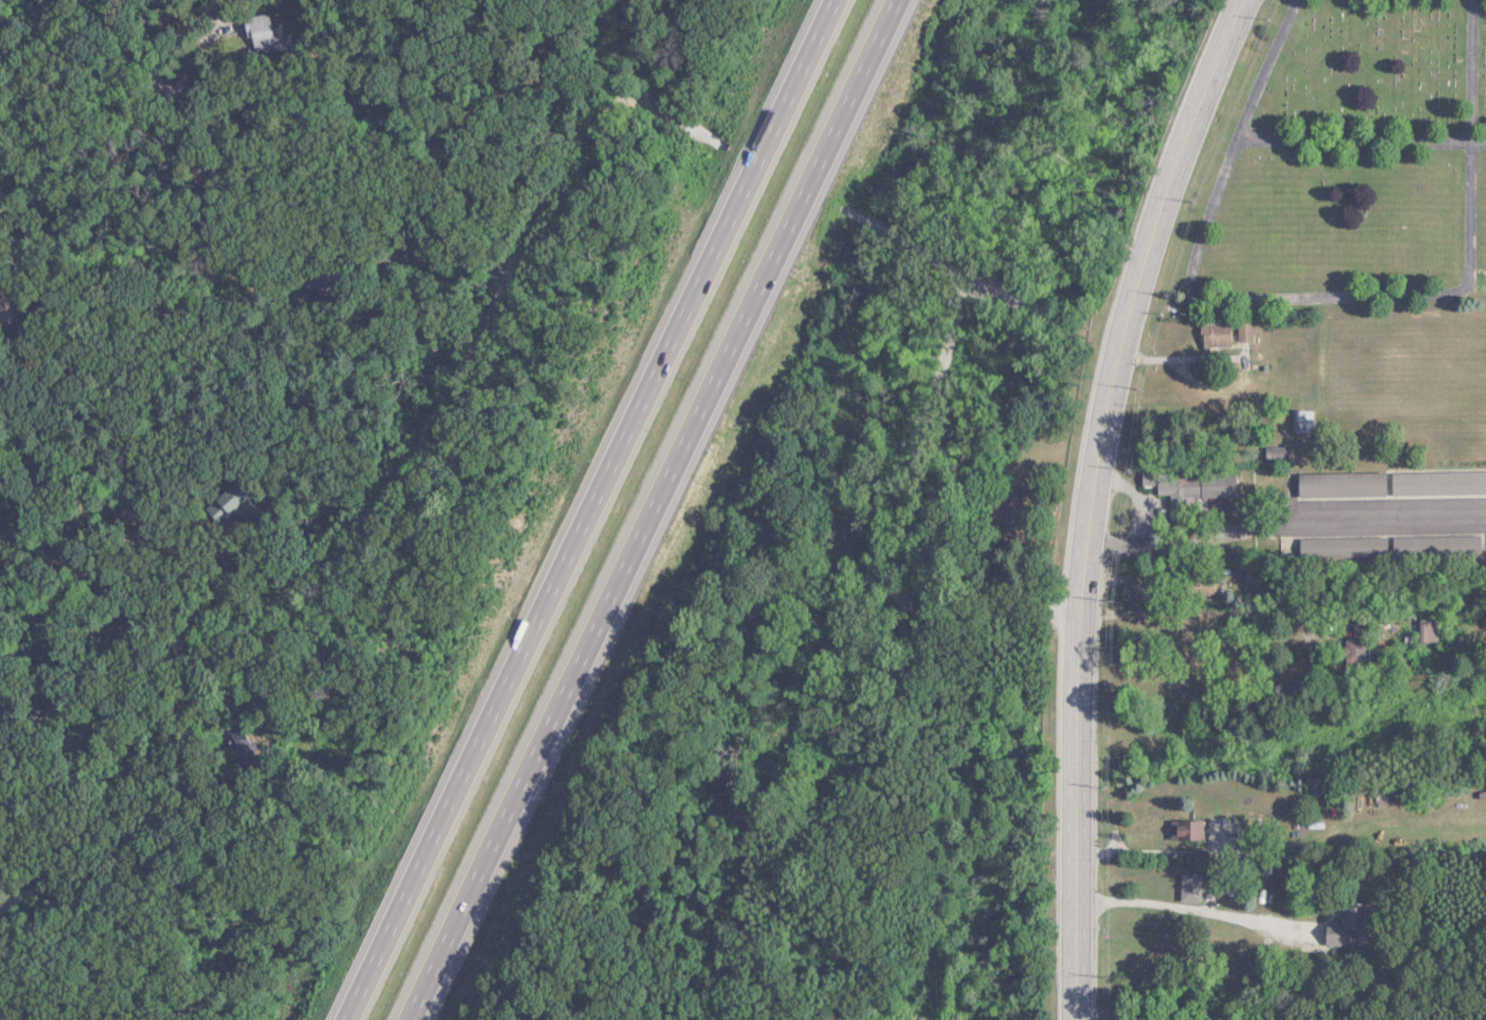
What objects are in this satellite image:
road: (1363, 3)
building: (262, 32)
road: (187, 67)
road: (673, 122)
road: (1356, 155)
park: (1339, 170)
road: (283, 171)
building: (6, 306)
road: (1308, 312)
building: (1243, 331)
building: (1214, 334)
building: (1301, 419)
building: (1276, 453)
road: (903, 473)
building: (1438, 482)
building: (1341, 483)
building: (1193, 486)
road: (1136, 494)
road: (1092, 498)
building: (241, 500)
building: (1010, 506)
road: (644, 509)
road: (578, 510)
road: (1285, 521)
road: (326, 539)
building: (1428, 545)
building: (1351, 546)
building: (1200, 586)
road: (1201, 613)
building: (1186, 829)
building: (1189, 887)
road: (1192, 910)
building: (1345, 924)

